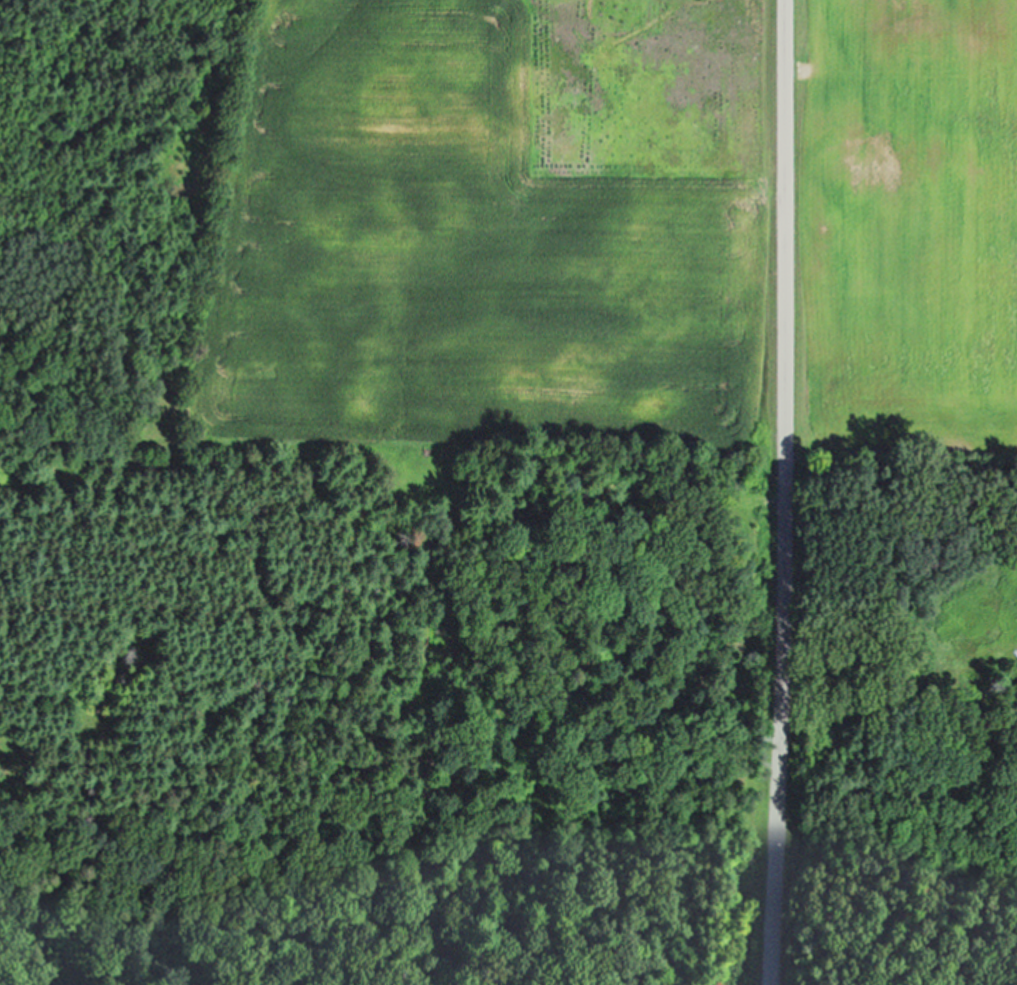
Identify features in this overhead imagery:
road: (788, 492)

